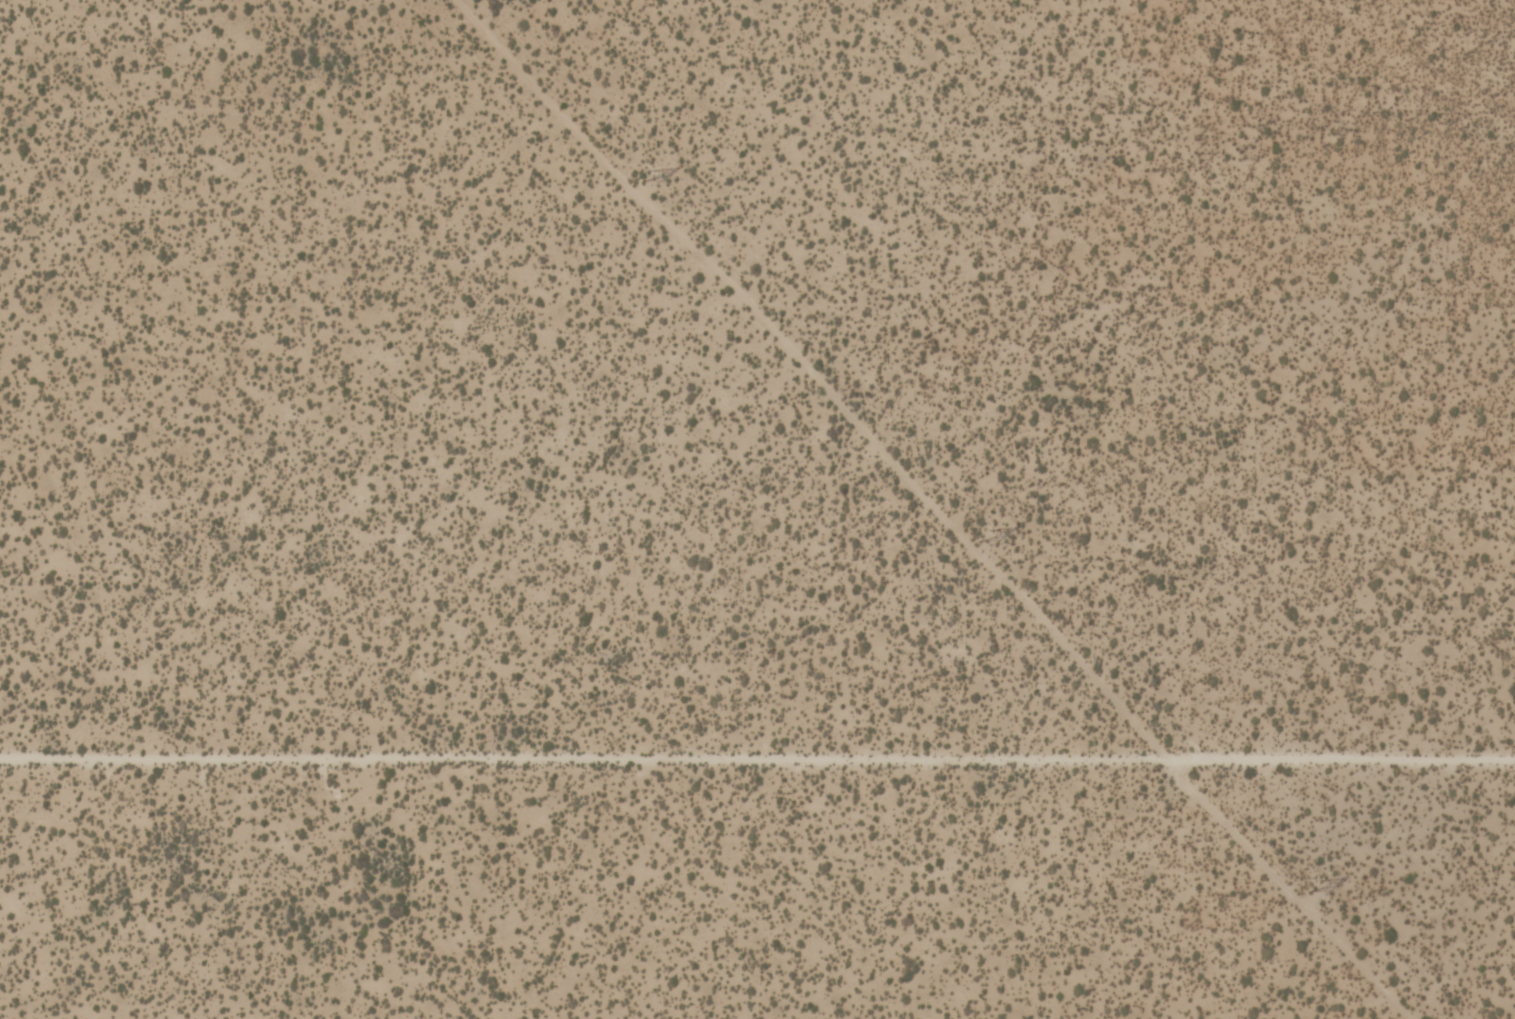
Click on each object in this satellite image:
power tower: (642, 174)
road: (927, 509)
power tower: (980, 531)
road: (757, 746)
power tower: (1308, 883)

